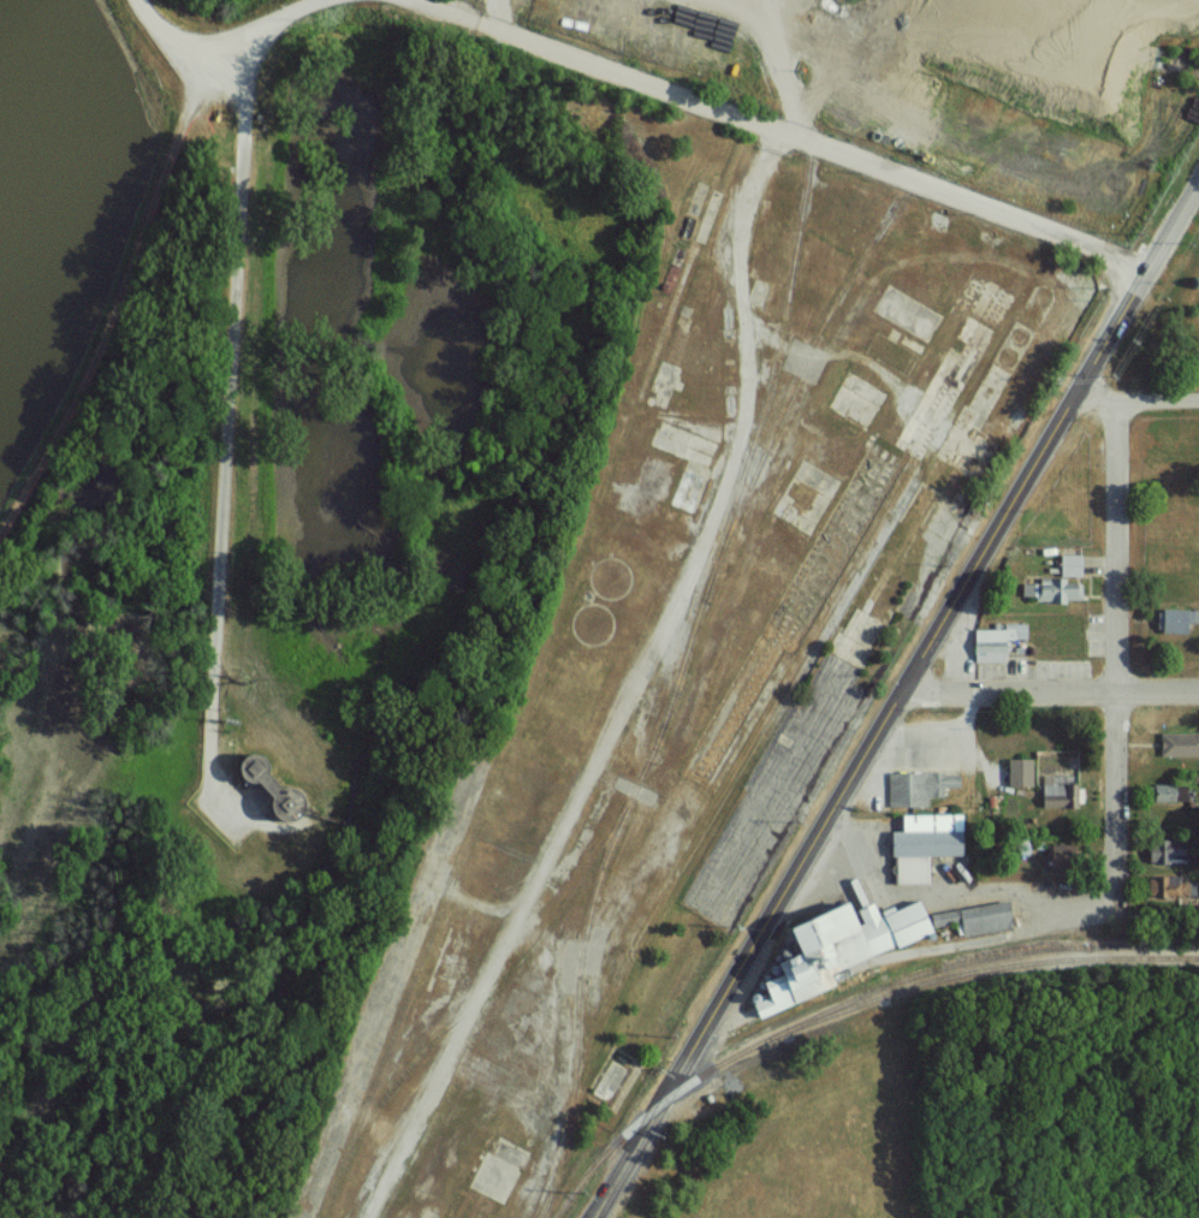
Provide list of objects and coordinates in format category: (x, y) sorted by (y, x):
road: (222, 37)
road: (779, 131)
railway: (850, 286)
road: (1139, 398)
road: (226, 405)
building: (1074, 564)
building: (1056, 589)
building: (1177, 619)
building: (999, 641)
road: (1116, 656)
road: (1053, 689)
road: (897, 703)
building: (1179, 745)
building: (1022, 771)
building: (920, 788)
building: (1174, 791)
building: (1063, 796)
building: (928, 844)
building: (1170, 850)
building: (1062, 854)
building: (1170, 885)
railway: (444, 897)
building: (873, 941)
railway: (1033, 953)
railway: (465, 1002)
railway: (1076, 1088)

